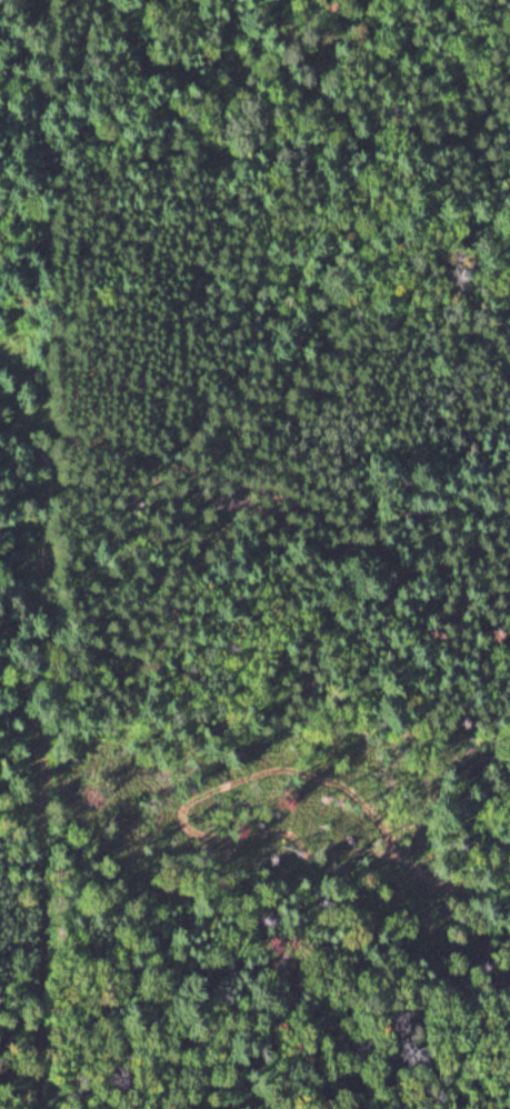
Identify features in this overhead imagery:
road: (46, 933)

